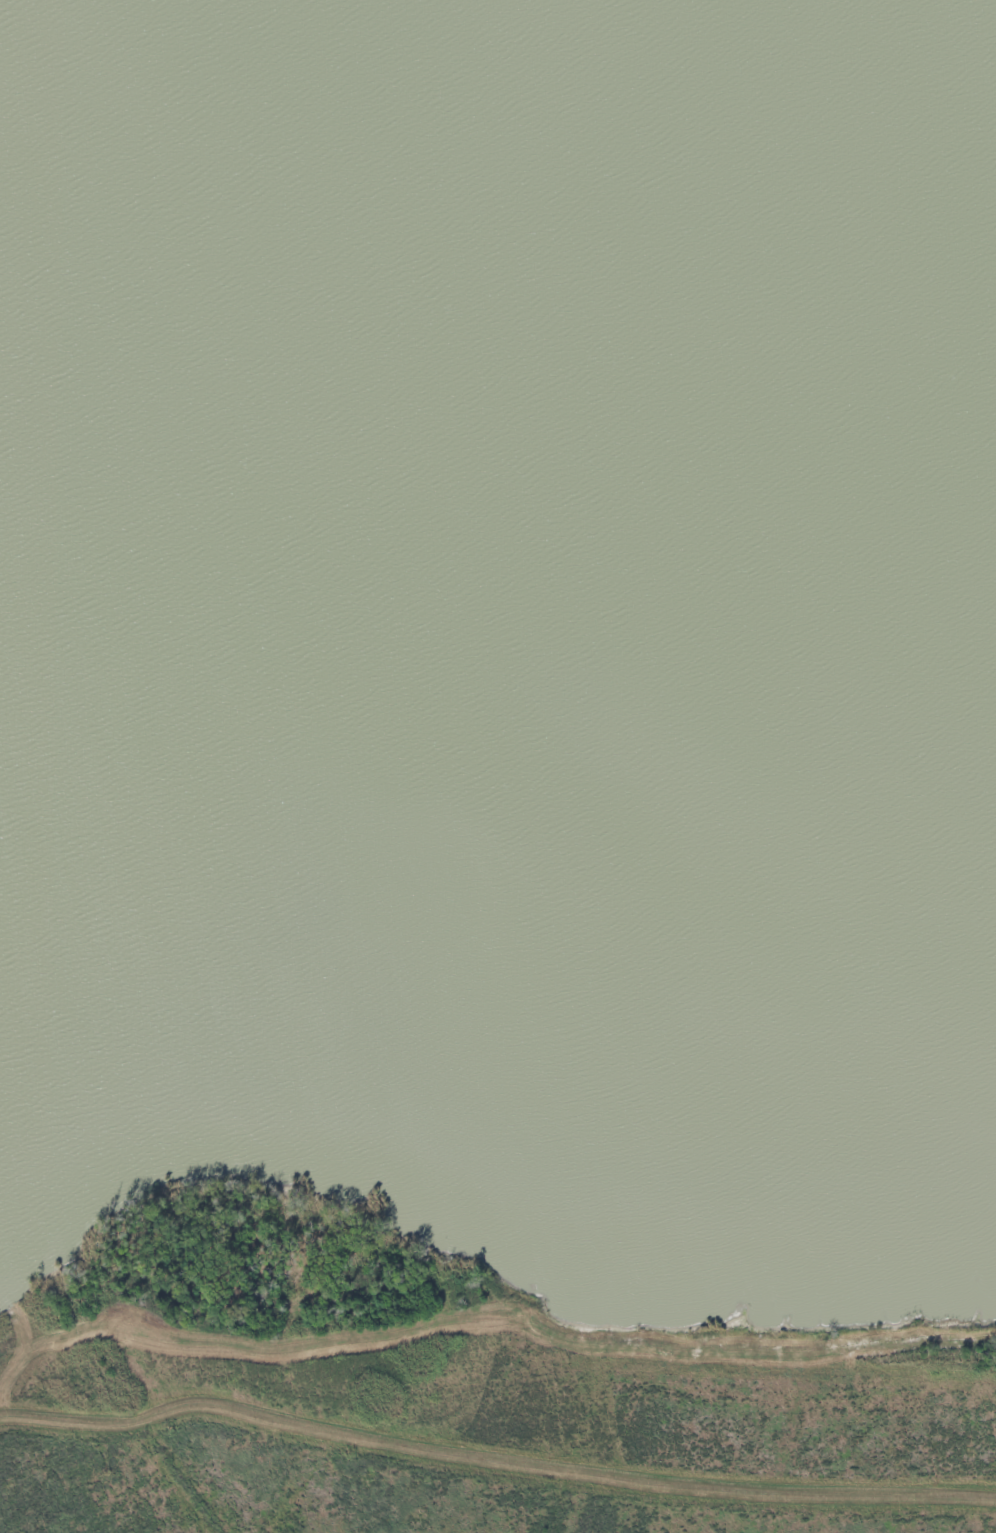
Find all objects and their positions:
road: (496, 1450)

